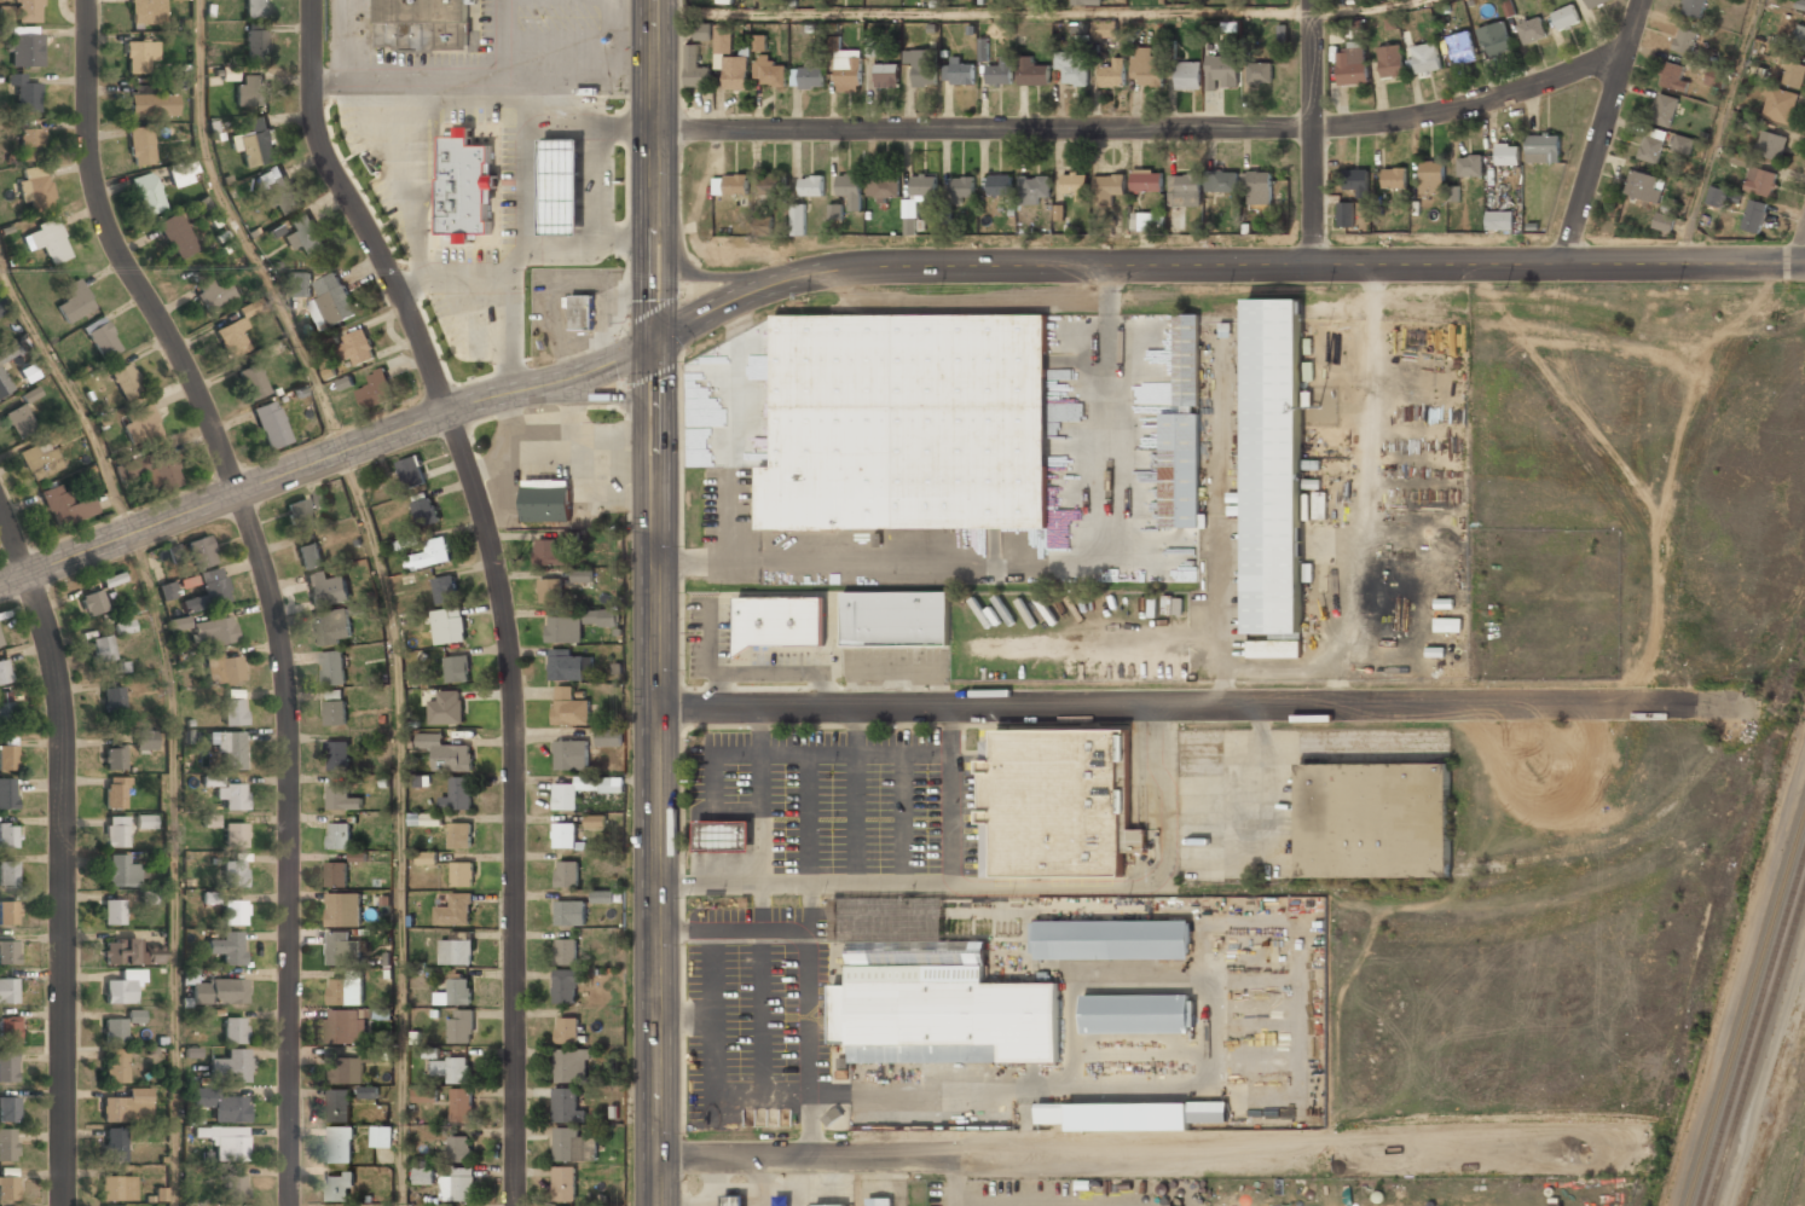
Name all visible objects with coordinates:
building: (178, 0)
building: (1086, 1)
building: (1596, 2)
building: (1801, 5)
building: (1691, 7)
building: (258, 8)
building: (27, 10)
road: (1367, 10)
building: (7, 12)
building: (146, 12)
road: (983, 13)
building: (1566, 17)
building: (424, 24)
building: (1105, 28)
building: (1532, 29)
building: (704, 31)
building: (1799, 36)
building: (1494, 39)
building: (723, 40)
building: (1685, 40)
building: (759, 42)
building: (256, 44)
building: (27, 45)
building: (872, 46)
building: (1460, 47)
building: (140, 57)
building: (1425, 57)
building: (1390, 60)
building: (1352, 65)
building: (922, 66)
building: (1146, 68)
building: (695, 69)
building: (1071, 69)
building: (847, 70)
building: (736, 71)
building: (769, 71)
building: (1032, 71)
building: (1221, 71)
building: (961, 73)
building: (999, 73)
building: (1113, 73)
building: (1259, 73)
building: (1794, 74)
building: (809, 75)
building: (1188, 75)
building: (1673, 75)
building: (886, 76)
building: (1716, 77)
building: (251, 89)
building: (25, 92)
building: (1780, 104)
building: (152, 105)
building: (1664, 109)
road: (1146, 128)
road: (1602, 131)
road: (1718, 131)
road: (1313, 132)
building: (31, 141)
building: (255, 143)
building: (1653, 144)
building: (1682, 144)
building: (1771, 144)
building: (140, 146)
building: (1543, 149)
building: (1506, 153)
building: (1469, 164)
road: (653, 170)
building: (183, 174)
building: (1431, 175)
building: (1395, 176)
building: (1147, 180)
building: (1356, 180)
building: (1760, 180)
building: (1221, 181)
building: (770, 182)
building: (1074, 182)
building: (1186, 182)
building: (811, 184)
building: (465, 185)
building: (562, 185)
building: (730, 185)
building: (924, 185)
building: (1000, 185)
building: (1644, 185)
building: (34, 186)
building: (883, 186)
building: (962, 186)
building: (1260, 186)
building: (850, 187)
building: (1109, 187)
building: (1034, 189)
building: (277, 191)
building: (147, 193)
building: (1453, 193)
building: (1718, 196)
building: (835, 211)
building: (1346, 214)
building: (1754, 215)
building: (798, 219)
building: (1176, 220)
building: (1500, 220)
building: (1664, 220)
building: (1147, 221)
road: (241, 233)
building: (177, 236)
building: (307, 236)
building: (48, 239)
building: (575, 249)
road: (1803, 255)
road: (1803, 261)
road: (1220, 265)
road: (710, 276)
building: (297, 284)
building: (213, 292)
building: (478, 295)
building: (334, 298)
building: (75, 301)
building: (2, 307)
building: (582, 312)
building: (102, 337)
building: (233, 338)
traffic signals: (654, 342)
building: (355, 347)
building: (8, 352)
building: (1187, 359)
building: (126, 379)
building: (251, 382)
building: (4, 383)
building: (375, 390)
road: (71, 399)
building: (19, 419)
building: (909, 422)
building: (270, 424)
building: (141, 425)
building: (542, 430)
road: (325, 459)
building: (40, 460)
building: (1274, 466)
building: (411, 471)
building: (1180, 471)
building: (166, 472)
building: (320, 498)
building: (546, 501)
building: (71, 505)
building: (426, 511)
building: (299, 514)
building: (1076, 538)
building: (406, 541)
building: (201, 552)
building: (550, 553)
building: (309, 555)
building: (429, 555)
building: (582, 575)
road: (266, 584)
road: (499, 584)
building: (326, 588)
building: (445, 590)
building: (550, 590)
building: (167, 591)
building: (208, 591)
building: (93, 603)
building: (601, 616)
building: (896, 619)
building: (781, 621)
building: (179, 624)
building: (449, 625)
building: (1447, 625)
building: (331, 626)
building: (565, 630)
building: (214, 631)
building: (0, 643)
building: (103, 648)
building: (1274, 649)
building: (565, 665)
building: (332, 667)
building: (222, 668)
building: (457, 668)
building: (4, 672)
building: (4, 697)
building: (112, 700)
building: (446, 707)
building: (568, 707)
building: (233, 712)
building: (335, 712)
road: (1199, 712)
building: (6, 713)
building: (609, 738)
building: (145, 741)
building: (230, 748)
building: (446, 752)
building: (569, 754)
building: (337, 755)
building: (7, 756)
building: (114, 758)
road: (656, 773)
building: (583, 789)
building: (8, 793)
building: (458, 793)
building: (115, 794)
building: (232, 795)
building: (341, 798)
building: (1057, 804)
building: (426, 819)
building: (1373, 819)
building: (210, 821)
building: (595, 821)
building: (145, 822)
road: (400, 825)
building: (115, 831)
building: (340, 834)
building: (565, 834)
building: (8, 835)
building: (235, 835)
building: (459, 835)
building: (724, 835)
road: (62, 852)
building: (358, 856)
building: (427, 857)
road: (172, 866)
building: (121, 871)
building: (8, 872)
building: (233, 872)
building: (462, 872)
building: (567, 872)
building: (336, 874)
building: (603, 895)
building: (343, 909)
building: (455, 909)
building: (235, 911)
building: (112, 912)
building: (569, 912)
building: (8, 914)
building: (1110, 939)
building: (227, 946)
building: (342, 947)
building: (566, 950)
building: (456, 951)
building: (8, 952)
building: (125, 952)
building: (189, 975)
building: (566, 986)
building: (122, 987)
building: (8, 991)
building: (219, 991)
building: (346, 991)
building: (456, 992)
building: (931, 992)
railway: (1746, 1011)
building: (1139, 1014)
building: (135, 1016)
building: (342, 1027)
building: (461, 1027)
building: (10, 1028)
building: (567, 1030)
building: (233, 1031)
railway: (1752, 1031)
building: (114, 1032)
railway: (1758, 1050)
building: (571, 1065)
building: (116, 1066)
building: (8, 1067)
building: (228, 1067)
building: (346, 1069)
building: (450, 1069)
building: (369, 1091)
building: (422, 1095)
building: (339, 1104)
building: (462, 1104)
building: (128, 1106)
building: (224, 1106)
building: (567, 1106)
building: (8, 1109)
building: (834, 1115)
building: (1133, 1115)
building: (381, 1136)
building: (225, 1142)
building: (115, 1144)
building: (340, 1144)
building: (7, 1146)
building: (572, 1146)
building: (461, 1148)
road: (1031, 1154)
building: (423, 1175)
building: (565, 1183)
building: (459, 1184)
building: (233, 1188)
building: (339, 1188)
building: (8, 1189)
building: (116, 1189)
building: (733, 1200)
building: (880, 1201)
building: (831, 1205)

